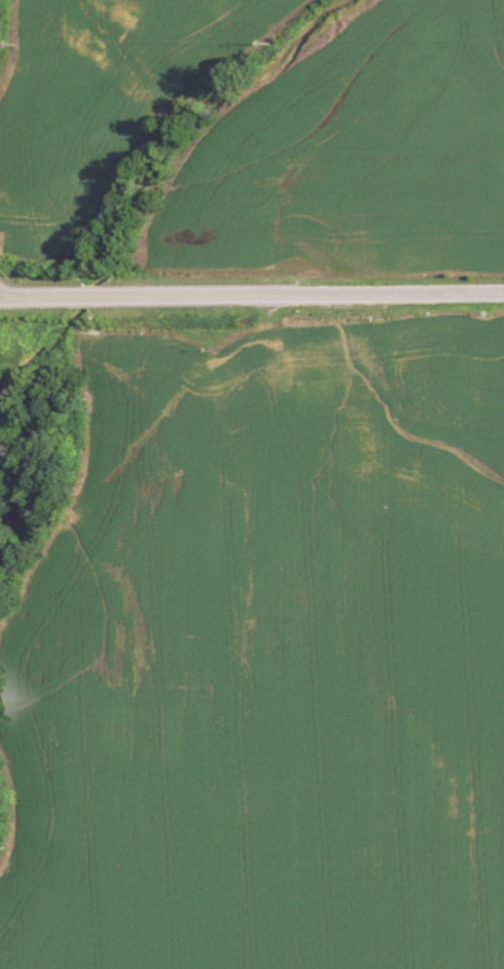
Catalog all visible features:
road: (252, 295)

